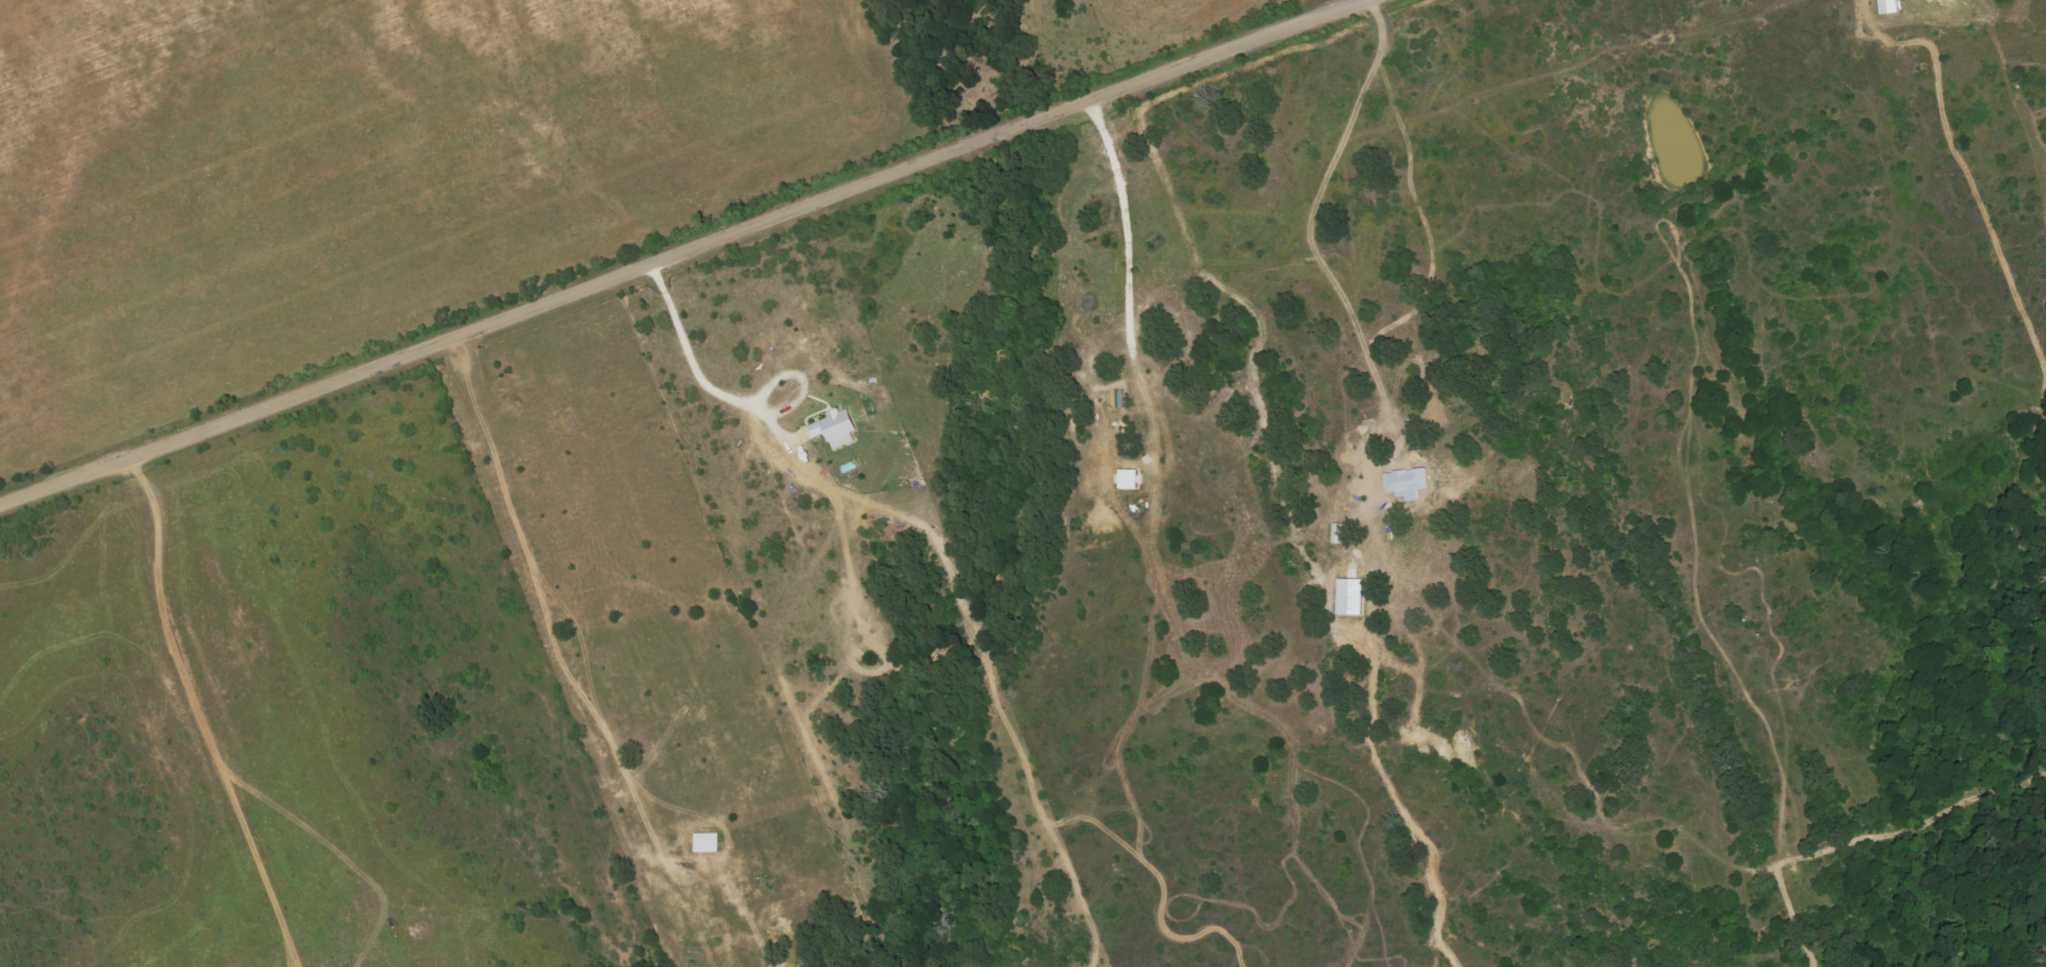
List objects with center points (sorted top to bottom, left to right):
building: (1888, 6)
road: (1309, 222)
road: (1124, 225)
road: (680, 253)
road: (732, 400)
building: (835, 428)
building: (1128, 478)
building: (1337, 533)
building: (1350, 596)
road: (164, 729)
building: (706, 842)

